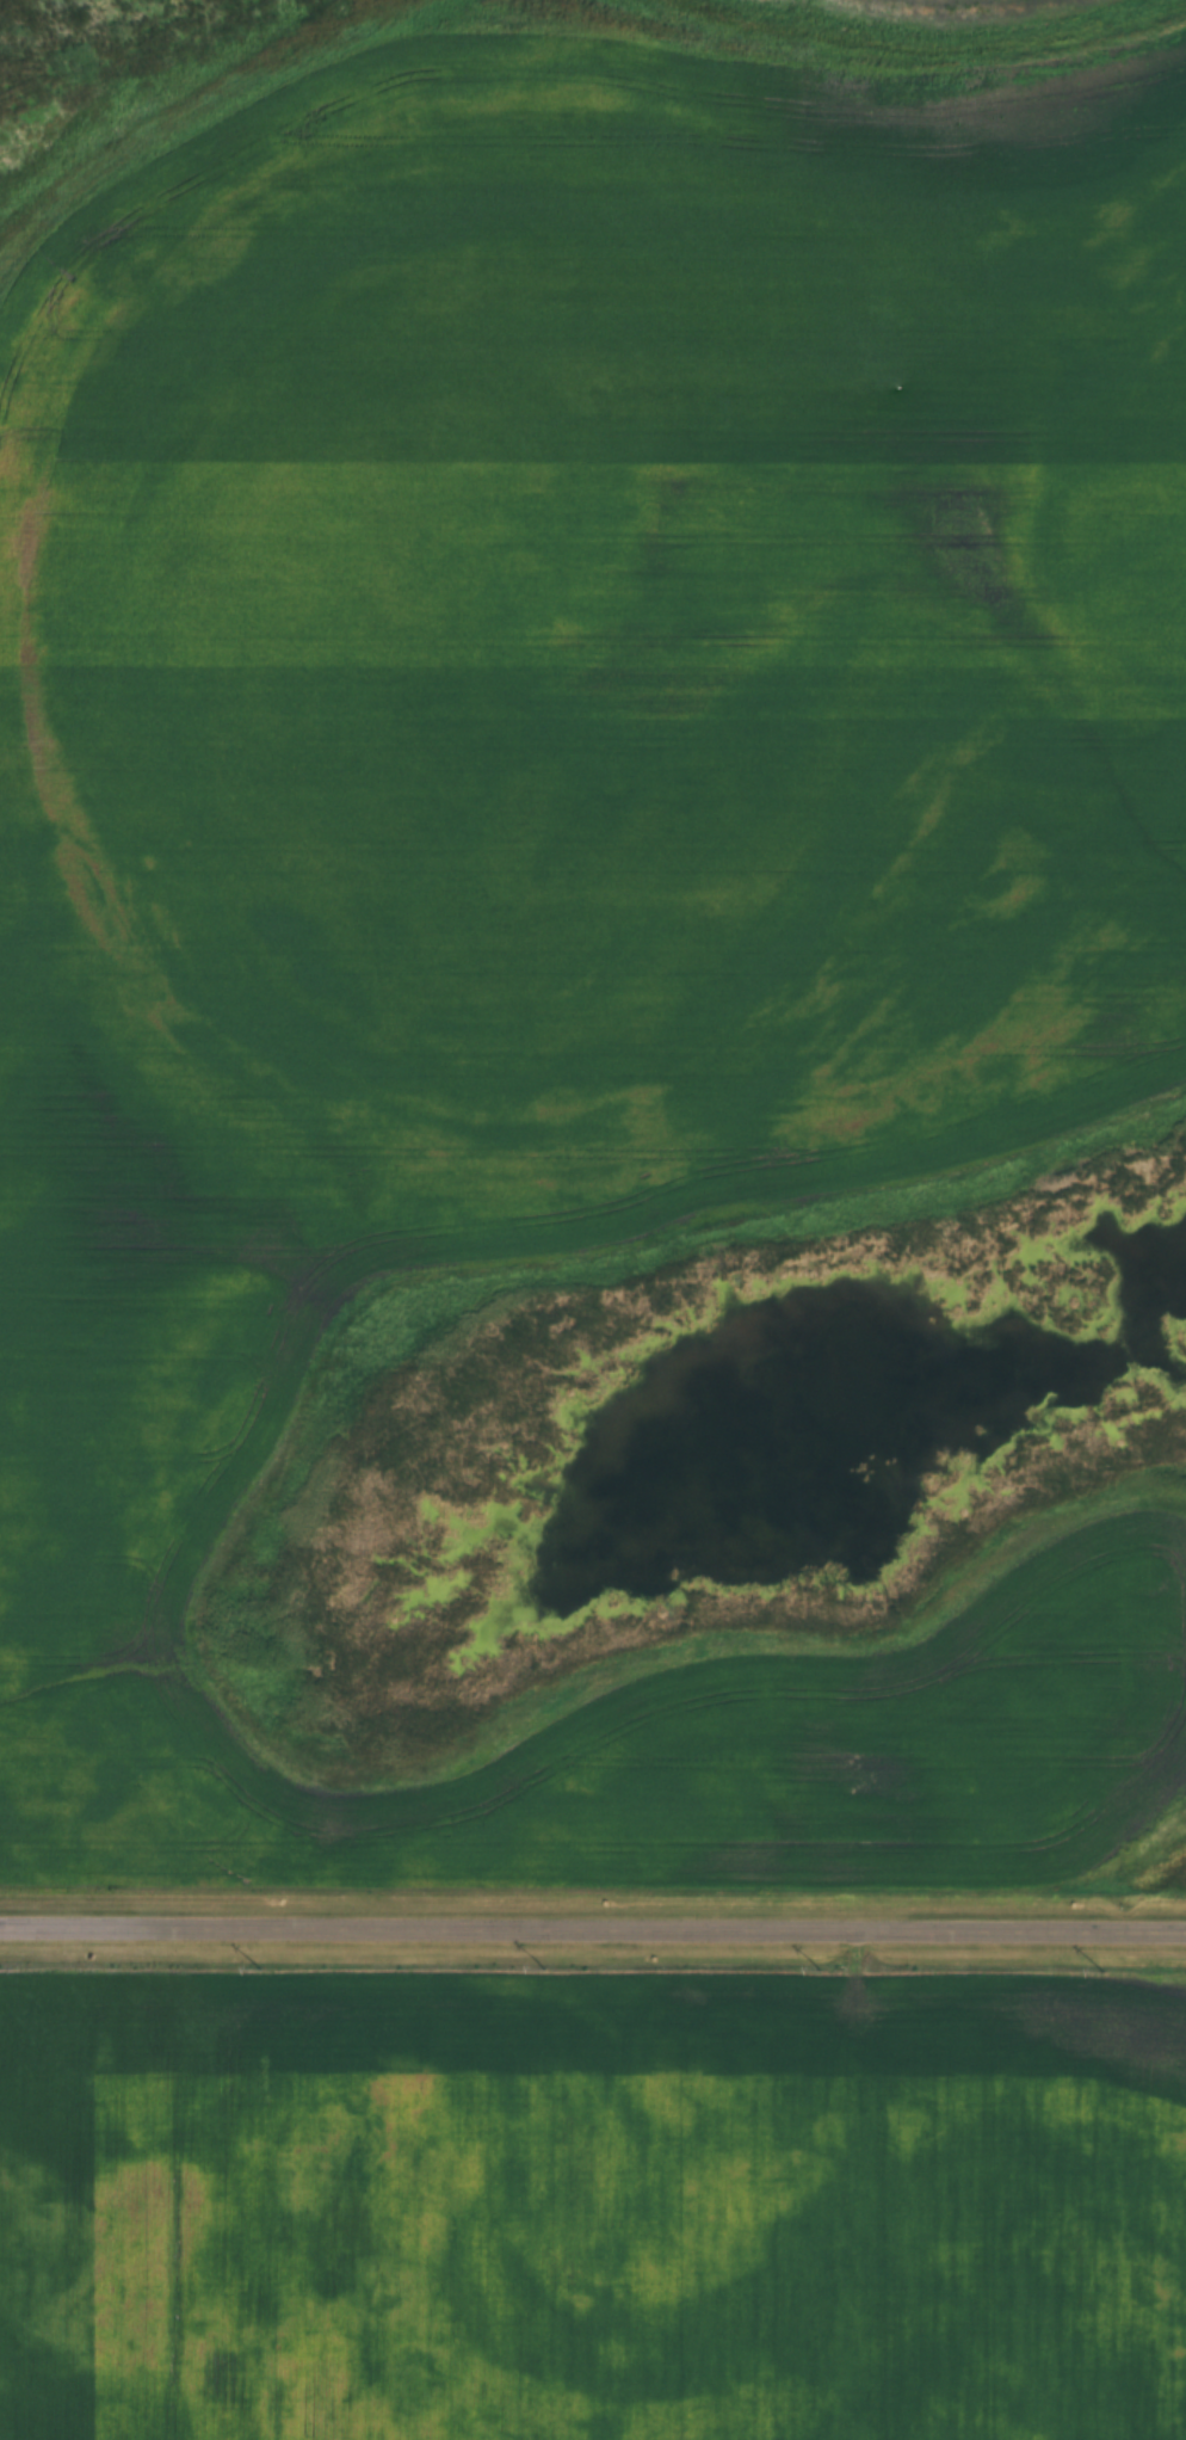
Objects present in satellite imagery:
road: (593, 1933)

